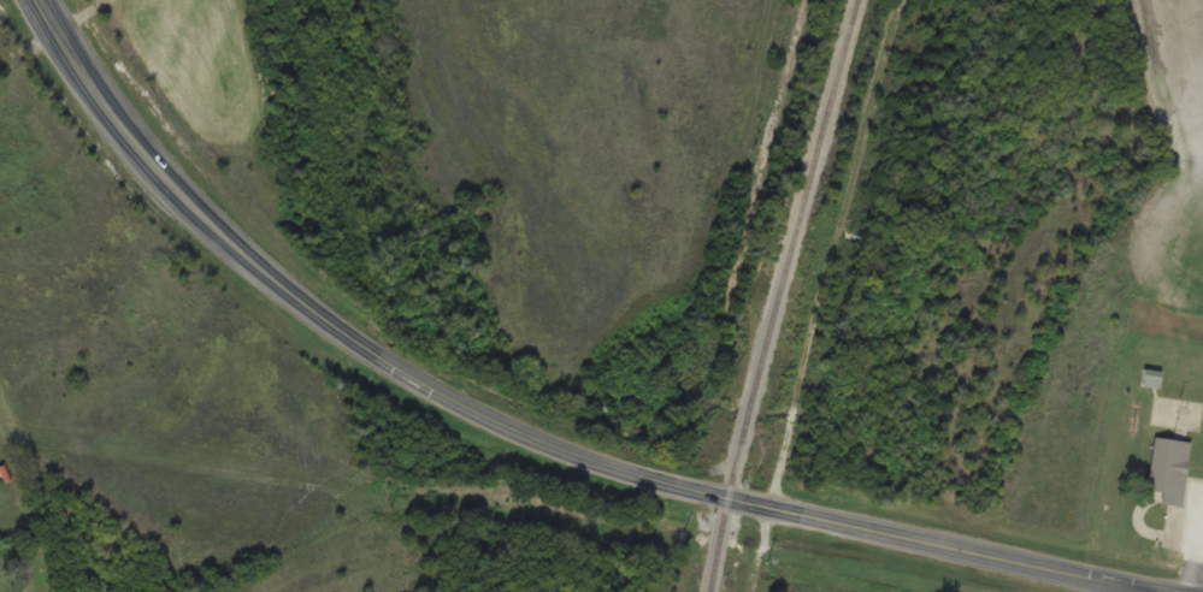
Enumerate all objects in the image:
road: (837, 254)
railway: (782, 295)
building: (1150, 377)
road: (521, 430)
building: (1167, 462)

